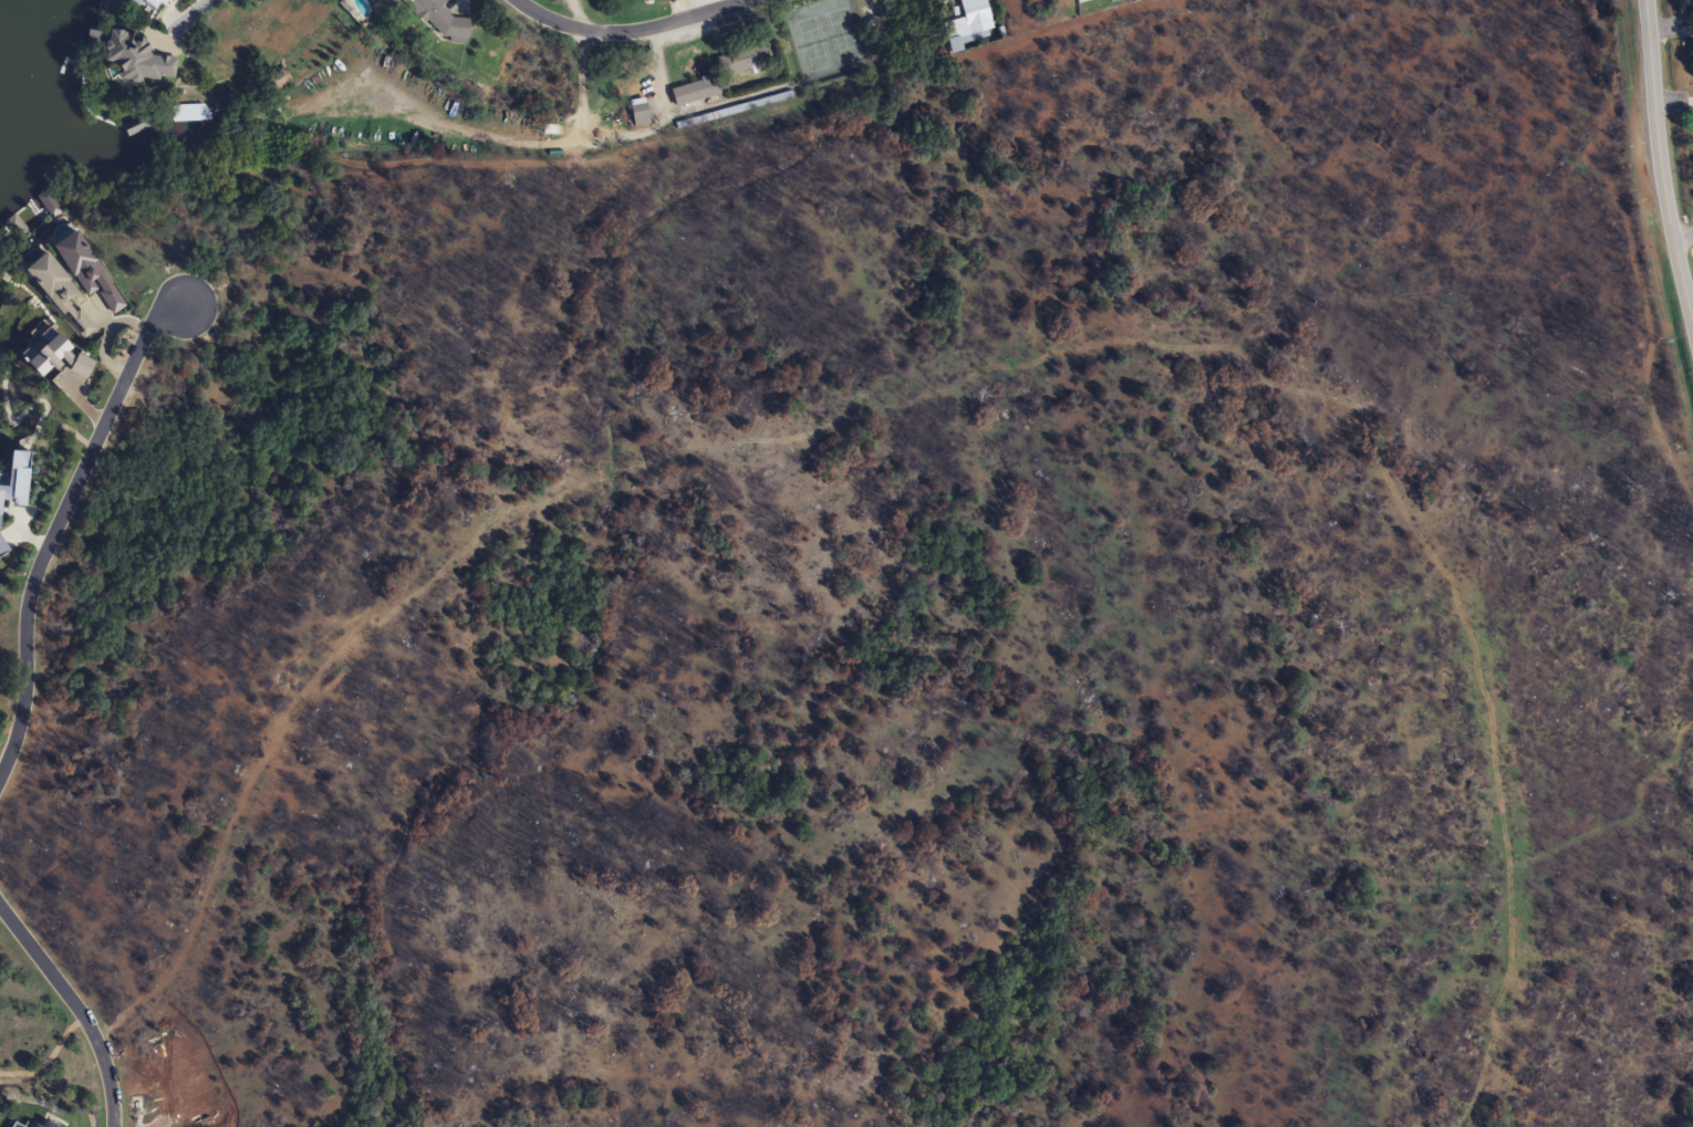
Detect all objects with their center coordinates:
building: (1080, 1)
road: (190, 14)
building: (438, 20)
building: (967, 20)
road: (630, 30)
building: (692, 91)
building: (201, 115)
building: (636, 115)
building: (134, 126)
road: (1659, 167)
building: (21, 221)
road: (1683, 234)
building: (81, 270)
building: (54, 294)
road: (55, 523)
road: (76, 1008)

